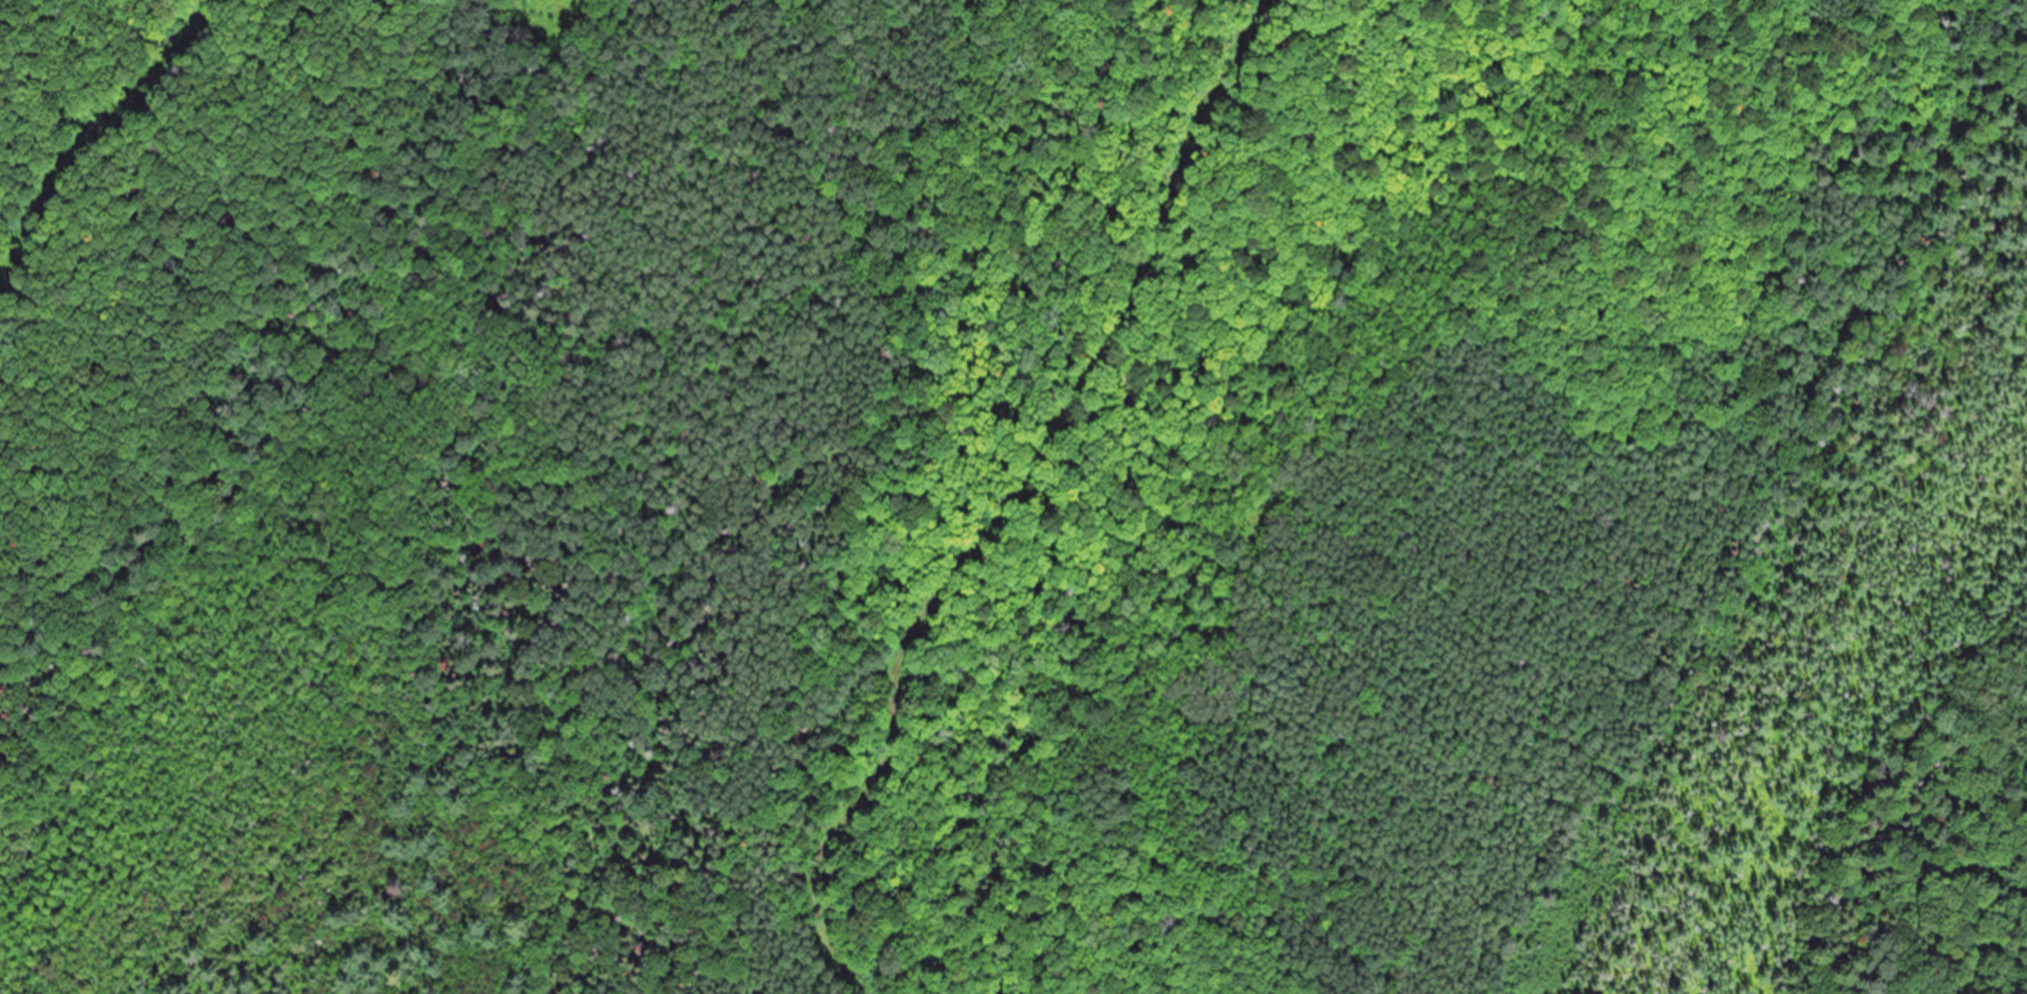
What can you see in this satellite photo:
road: (92, 133)
road: (1005, 496)

